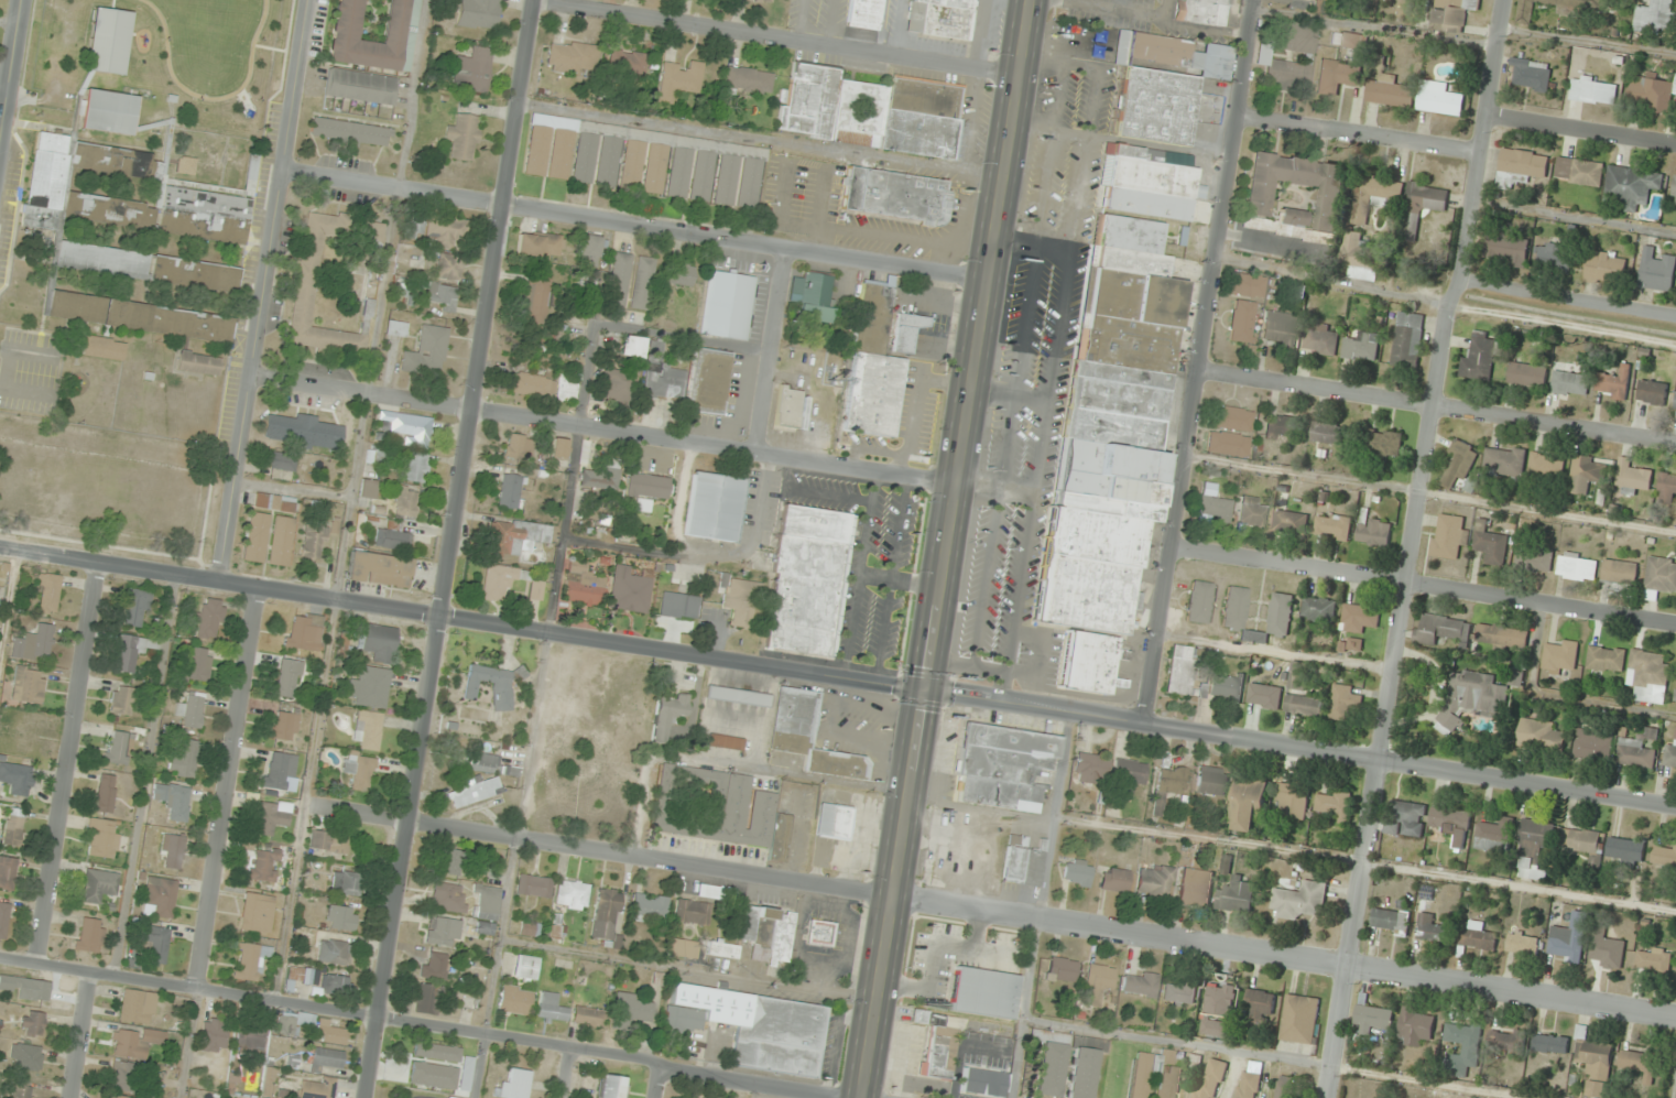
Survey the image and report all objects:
building: (768, 0)
building: (1319, 0)
building: (1588, 2)
building: (1201, 11)
building: (1525, 11)
building: (478, 13)
building: (864, 13)
building: (1454, 13)
building: (1655, 17)
building: (940, 18)
building: (376, 33)
road: (775, 39)
building: (108, 41)
building: (1352, 41)
building: (1098, 42)
building: (1287, 56)
building: (572, 57)
building: (627, 63)
road: (10, 65)
building: (472, 69)
building: (1530, 75)
building: (1337, 76)
building: (747, 79)
building: (678, 80)
building: (361, 86)
building: (1155, 88)
building: (1593, 90)
building: (1390, 93)
building: (1650, 93)
building: (1438, 99)
building: (831, 107)
building: (108, 111)
building: (921, 118)
road: (1580, 128)
road: (1358, 132)
building: (350, 133)
building: (464, 137)
building: (547, 148)
building: (585, 157)
building: (111, 160)
building: (608, 162)
building: (632, 165)
building: (1521, 167)
building: (655, 170)
building: (1579, 172)
building: (678, 173)
building: (701, 176)
building: (726, 180)
building: (46, 181)
building: (1150, 182)
building: (749, 183)
building: (1632, 186)
road: (281, 187)
building: (1674, 188)
building: (894, 195)
building: (1373, 196)
building: (1329, 202)
building: (1421, 207)
building: (109, 211)
building: (204, 215)
building: (1292, 217)
road: (633, 226)
building: (413, 228)
building: (445, 230)
building: (537, 243)
building: (1506, 249)
building: (590, 250)
building: (1553, 257)
building: (1360, 258)
building: (1606, 265)
building: (449, 267)
building: (146, 268)
building: (307, 270)
building: (1656, 271)
building: (681, 274)
building: (619, 279)
road: (1447, 279)
building: (643, 282)
building: (1248, 284)
building: (443, 296)
building: (814, 297)
building: (535, 298)
building: (726, 304)
building: (138, 316)
building: (1242, 320)
building: (396, 328)
building: (1280, 329)
building: (906, 331)
building: (1407, 340)
building: (1320, 341)
building: (631, 346)
building: (1362, 347)
building: (104, 348)
building: (427, 351)
road: (773, 351)
building: (1479, 359)
road: (1198, 360)
building: (198, 363)
building: (872, 367)
building: (1527, 374)
building: (663, 376)
building: (708, 381)
building: (1570, 383)
building: (616, 384)
building: (1613, 384)
building: (546, 385)
building: (1652, 392)
road: (1436, 405)
building: (1675, 406)
building: (787, 407)
building: (1231, 418)
building: (405, 426)
building: (1112, 426)
building: (1281, 426)
building: (304, 430)
road: (602, 431)
building: (1328, 434)
building: (1228, 444)
building: (1383, 444)
building: (519, 446)
building: (559, 448)
building: (379, 455)
building: (282, 460)
building: (1504, 461)
building: (415, 466)
building: (1458, 466)
building: (1546, 466)
building: (1587, 474)
building: (599, 477)
building: (1631, 479)
road: (237, 480)
building: (369, 488)
building: (1667, 488)
building: (646, 489)
building: (509, 490)
building: (405, 500)
building: (274, 502)
building: (714, 507)
building: (1214, 509)
building: (1252, 511)
building: (1291, 523)
building: (1334, 526)
building: (1374, 532)
building: (257, 536)
building: (393, 536)
building: (515, 536)
building: (1448, 536)
building: (281, 541)
building: (313, 543)
building: (1490, 545)
road: (1407, 546)
road: (451, 548)
road: (943, 548)
building: (1534, 557)
building: (1577, 567)
building: (379, 568)
building: (1620, 572)
building: (686, 575)
building: (1659, 577)
building: (499, 580)
building: (807, 580)
road: (1423, 584)
building: (583, 585)
building: (630, 588)
building: (536, 589)
building: (47, 594)
building: (741, 601)
building: (1199, 601)
building: (678, 605)
road: (9, 607)
building: (137, 607)
building: (1318, 609)
building: (1234, 611)
building: (1359, 617)
building: (209, 620)
building: (1439, 629)
building: (304, 631)
building: (1502, 635)
building: (379, 642)
building: (35, 644)
building: (1350, 645)
building: (131, 653)
building: (1560, 656)
building: (1606, 660)
building: (1088, 663)
building: (195, 664)
building: (1180, 671)
building: (1648, 676)
road: (837, 677)
building: (286, 678)
building: (1296, 682)
building: (28, 685)
building: (1226, 686)
building: (369, 687)
building: (502, 692)
traffic signals: (922, 692)
building: (737, 696)
building: (1264, 696)
building: (1474, 697)
building: (1675, 697)
building: (121, 700)
building: (1345, 703)
building: (1303, 706)
building: (191, 711)
building: (666, 715)
building: (284, 725)
building: (367, 729)
building: (26, 735)
building: (1543, 735)
building: (808, 736)
building: (725, 741)
building: (1592, 744)
building: (119, 749)
building: (1636, 753)
building: (1669, 757)
building: (183, 758)
road: (66, 762)
building: (488, 764)
building: (1003, 767)
building: (1090, 769)
building: (279, 770)
building: (359, 771)
building: (1129, 773)
building: (14, 776)
building: (1211, 781)
building: (1168, 784)
road: (229, 789)
building: (474, 791)
building: (106, 793)
building: (173, 801)
building: (1248, 802)
building: (1292, 802)
building: (1332, 805)
building: (718, 808)
building: (272, 816)
building: (1405, 819)
building: (1449, 820)
building: (832, 822)
building: (13, 827)
building: (1495, 836)
building: (100, 839)
building: (328, 841)
building: (1584, 844)
building: (1533, 850)
building: (1625, 850)
building: (171, 851)
building: (821, 854)
building: (1664, 855)
building: (451, 861)
building: (263, 865)
building: (1023, 866)
building: (7, 872)
building: (1076, 872)
building: (1114, 880)
building: (1154, 880)
building: (346, 883)
building: (98, 885)
building: (533, 885)
building: (1195, 887)
building: (707, 891)
building: (572, 894)
building: (160, 895)
building: (1236, 895)
building: (448, 896)
building: (1299, 900)
building: (486, 903)
building: (649, 909)
road: (991, 909)
building: (257, 912)
building: (693, 912)
building: (605, 915)
building: (341, 917)
building: (3, 920)
building: (1390, 922)
building: (485, 928)
building: (527, 928)
building: (1430, 930)
building: (443, 932)
building: (768, 933)
building: (819, 933)
building: (89, 935)
building: (1477, 935)
building: (1569, 939)
building: (155, 944)
building: (1523, 944)
building: (681, 947)
building: (722, 949)
building: (1606, 949)
building: (334, 952)
building: (249, 960)
building: (1653, 961)
building: (435, 966)
building: (524, 967)
building: (1062, 969)
building: (1099, 982)
building: (1140, 983)
building: (337, 986)
building: (35, 989)
building: (983, 992)
building: (1178, 994)
building: (426, 999)
building: (514, 1000)
building: (134, 1005)
building: (1260, 1007)
building: (551, 1008)
building: (1219, 1010)
building: (630, 1011)
building: (588, 1017)
building: (1371, 1019)
building: (1299, 1020)
building: (296, 1021)
building: (32, 1023)
road: (424, 1024)
building: (752, 1026)
building: (1414, 1026)
building: (330, 1032)
road: (80, 1035)
building: (214, 1035)
building: (250, 1039)
building: (1505, 1040)
building: (134, 1042)
road: (191, 1043)
building: (1550, 1044)
building: (418, 1047)
building: (1462, 1048)
building: (939, 1053)
building: (465, 1054)
building: (25, 1057)
building: (324, 1058)
building: (1593, 1063)
building: (1639, 1064)
building: (1049, 1068)
building: (1080, 1073)
building: (1167, 1073)
road: (568, 1074)
building: (123, 1077)
building: (1210, 1078)
road: (660, 1079)
building: (983, 1081)
building: (1248, 1083)
building: (514, 1085)
building: (611, 1087)
building: (1282, 1087)
building: (21, 1088)
building: (317, 1088)
building: (111, 1096)
building: (450, 1097)

